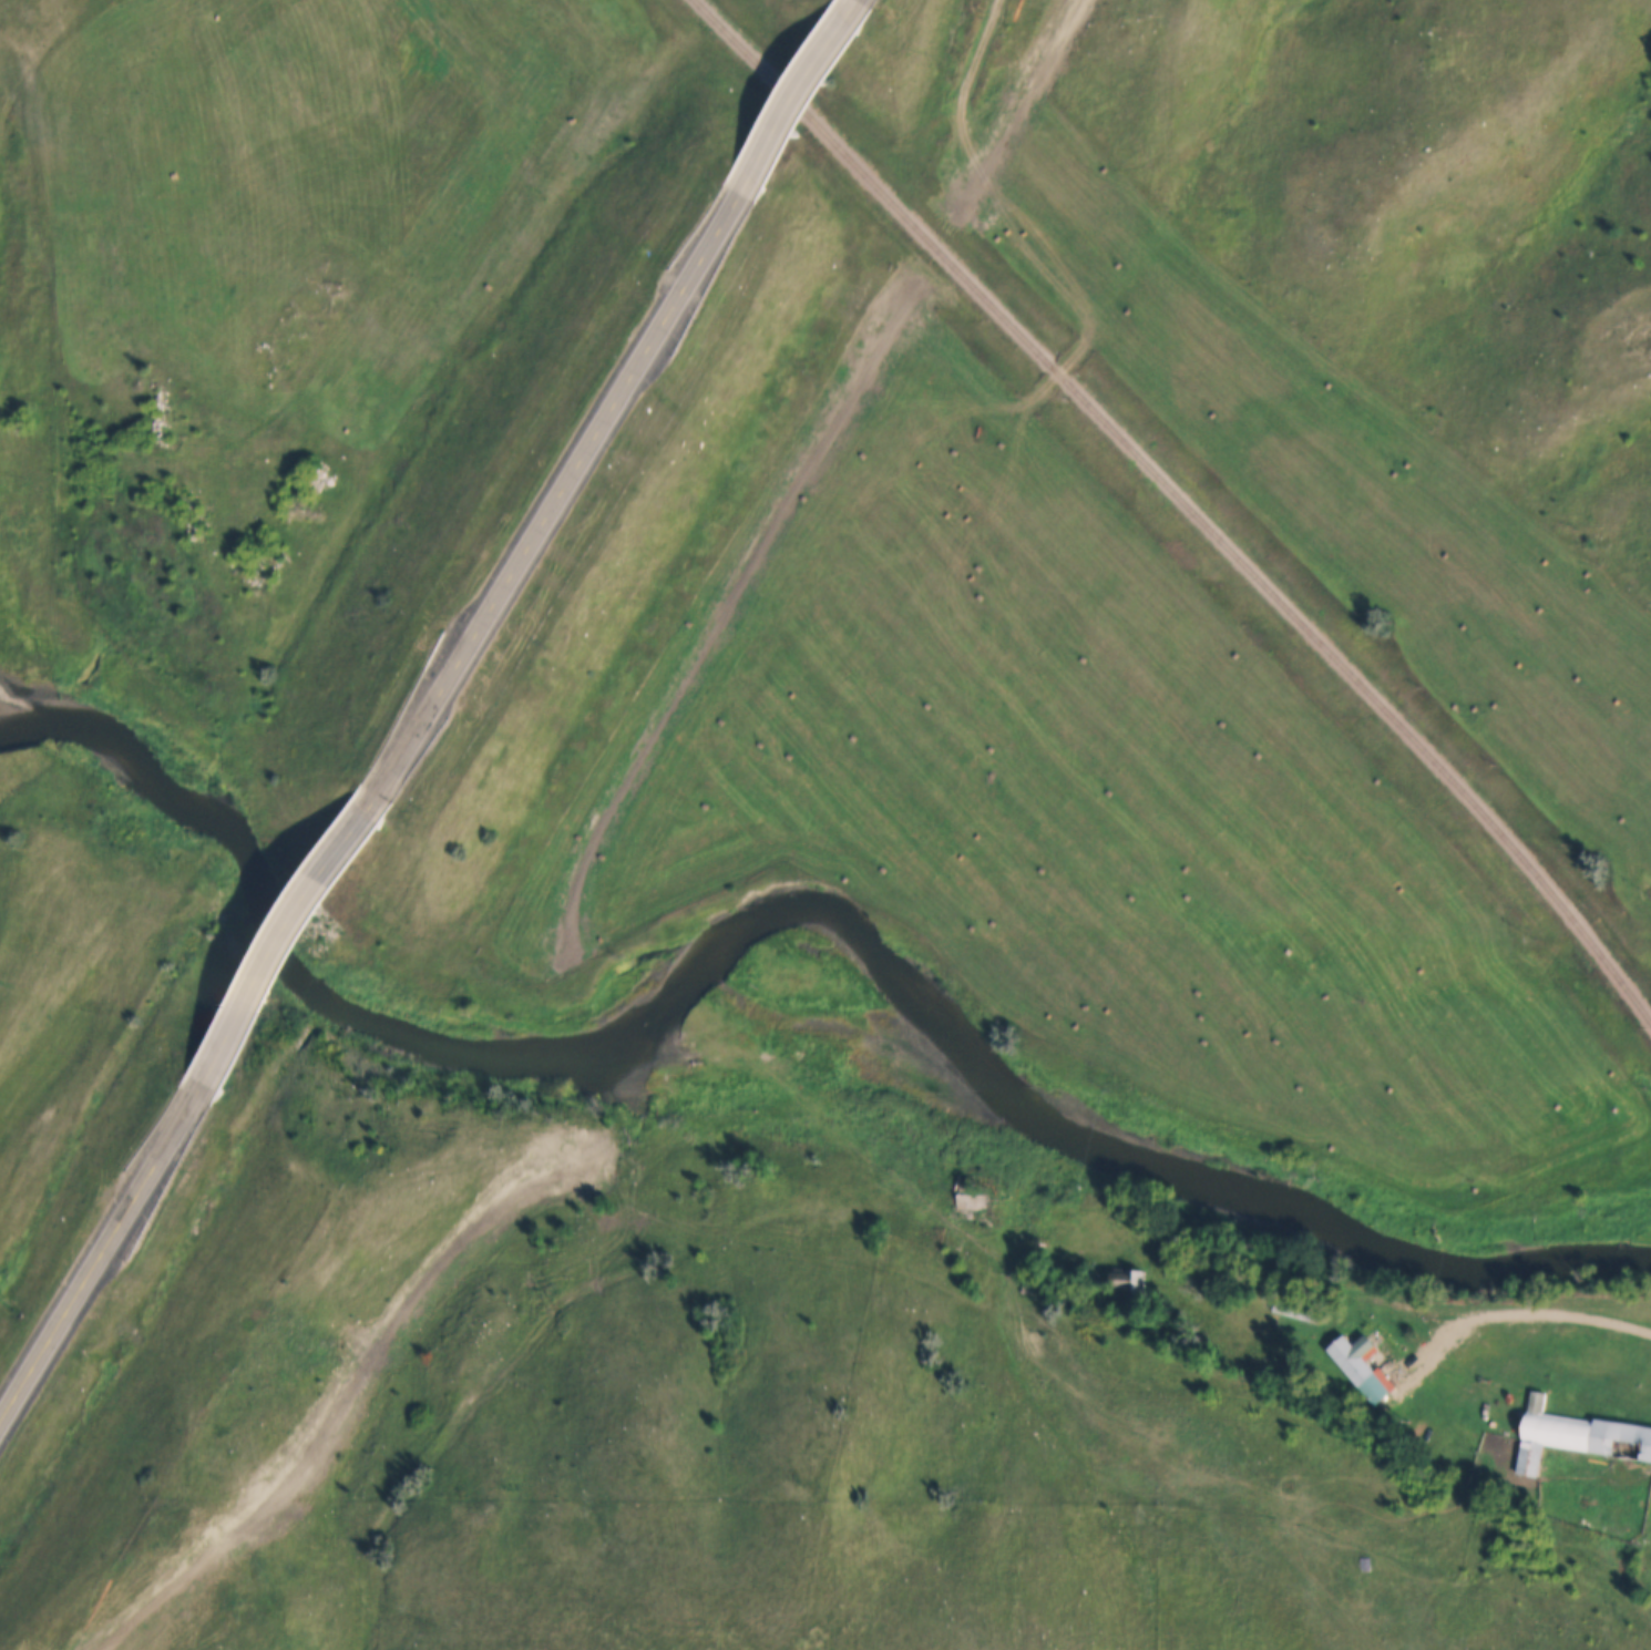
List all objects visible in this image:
road: (803, 89)
road: (901, 154)
road: (572, 473)
railway: (1186, 500)
river: (777, 908)
road: (300, 922)
building: (970, 1202)
road: (99, 1247)
building: (1125, 1279)
road: (1341, 1281)
building: (1296, 1310)
building: (1358, 1364)
building: (1578, 1435)

